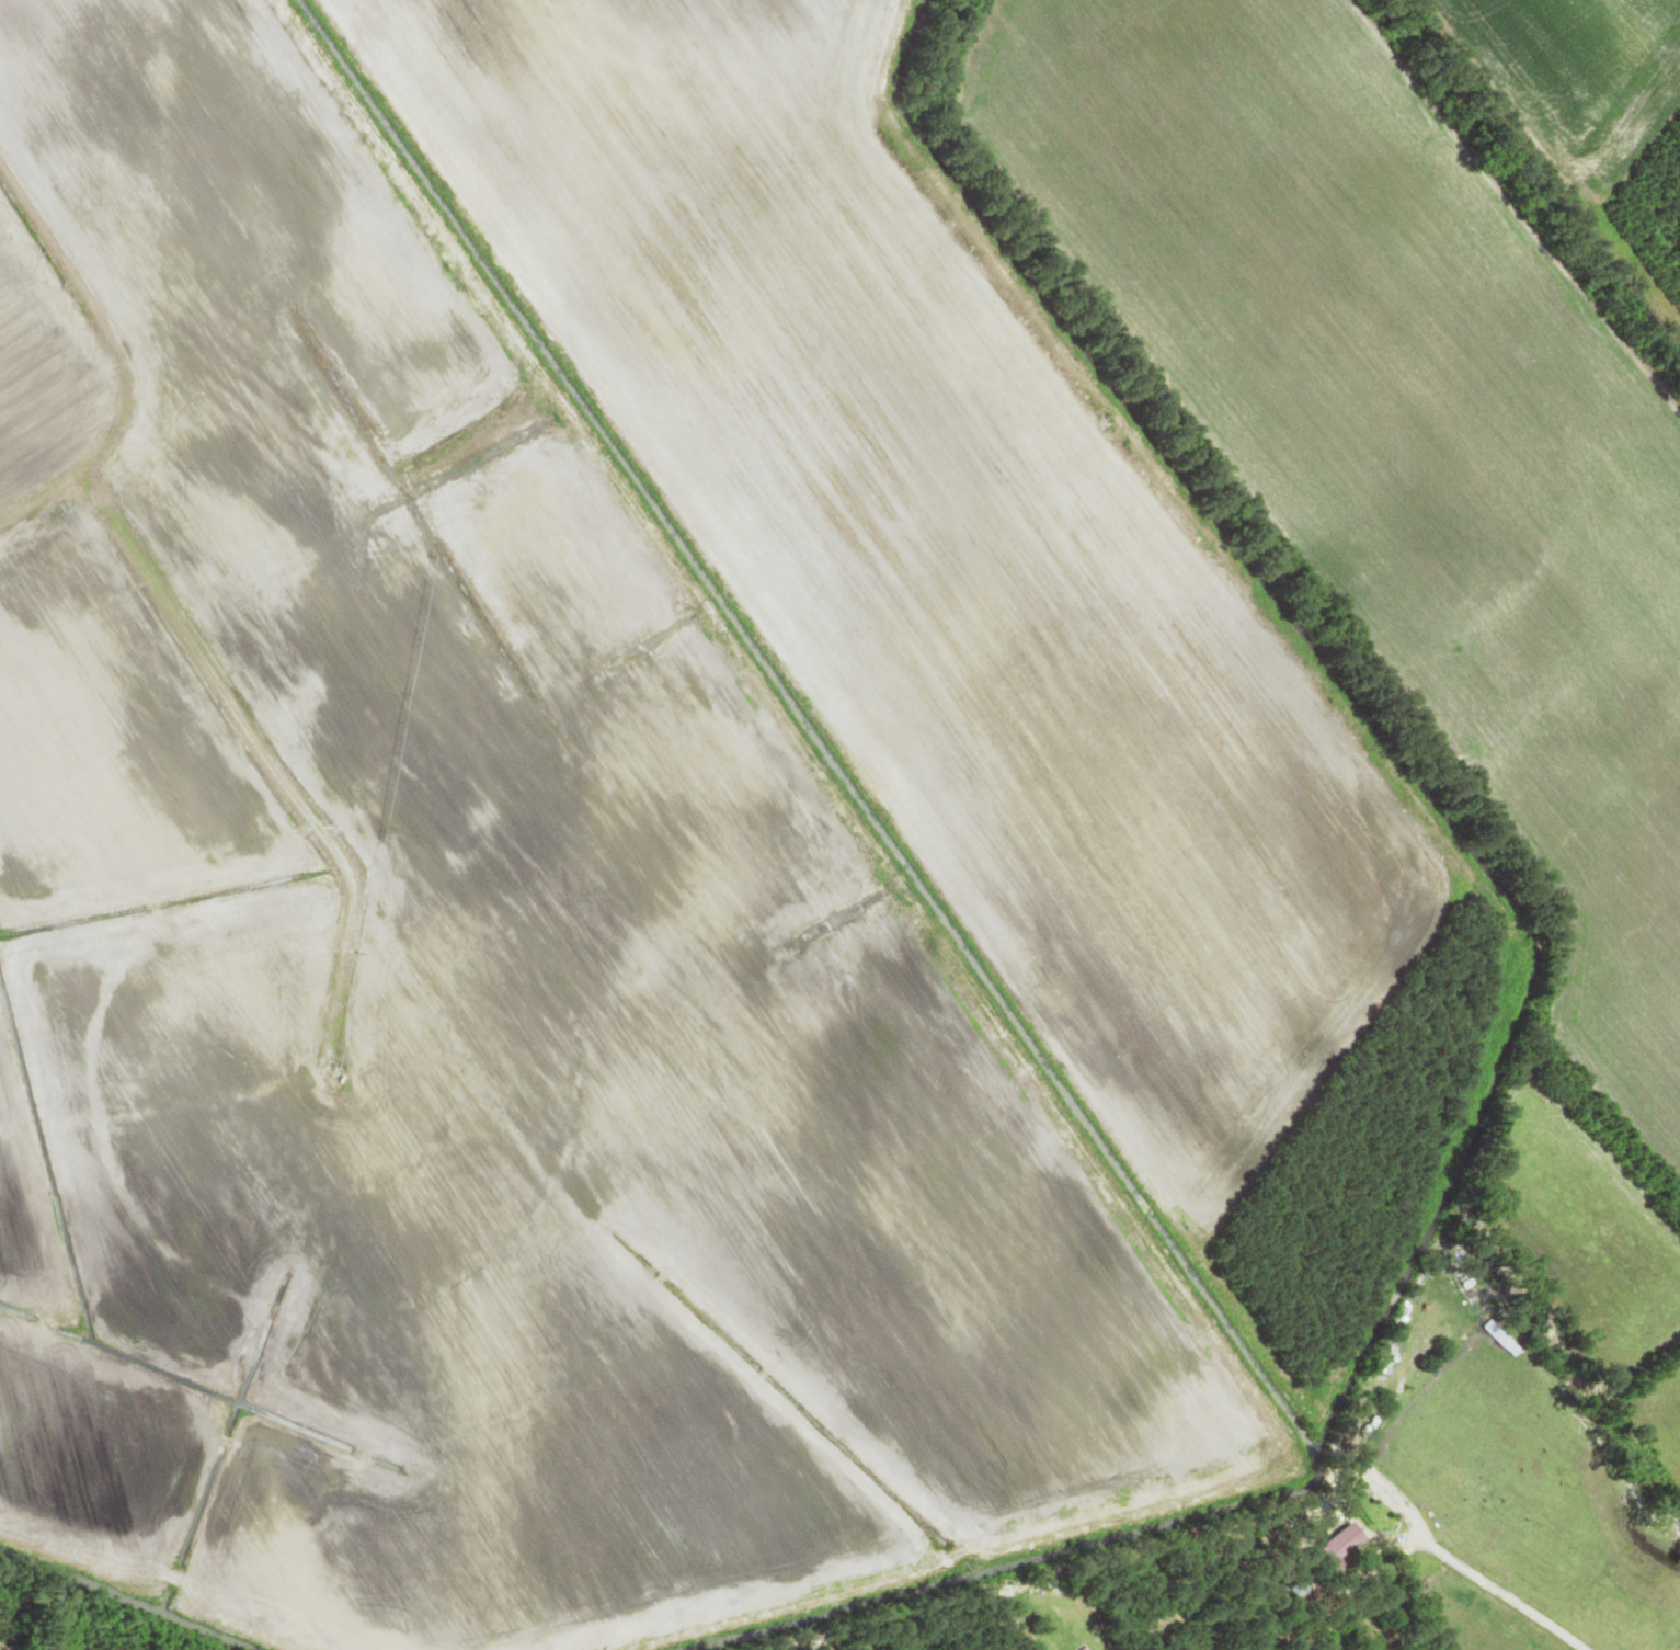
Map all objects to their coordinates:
building: (1334, 1547)
building: (1162, 1624)

